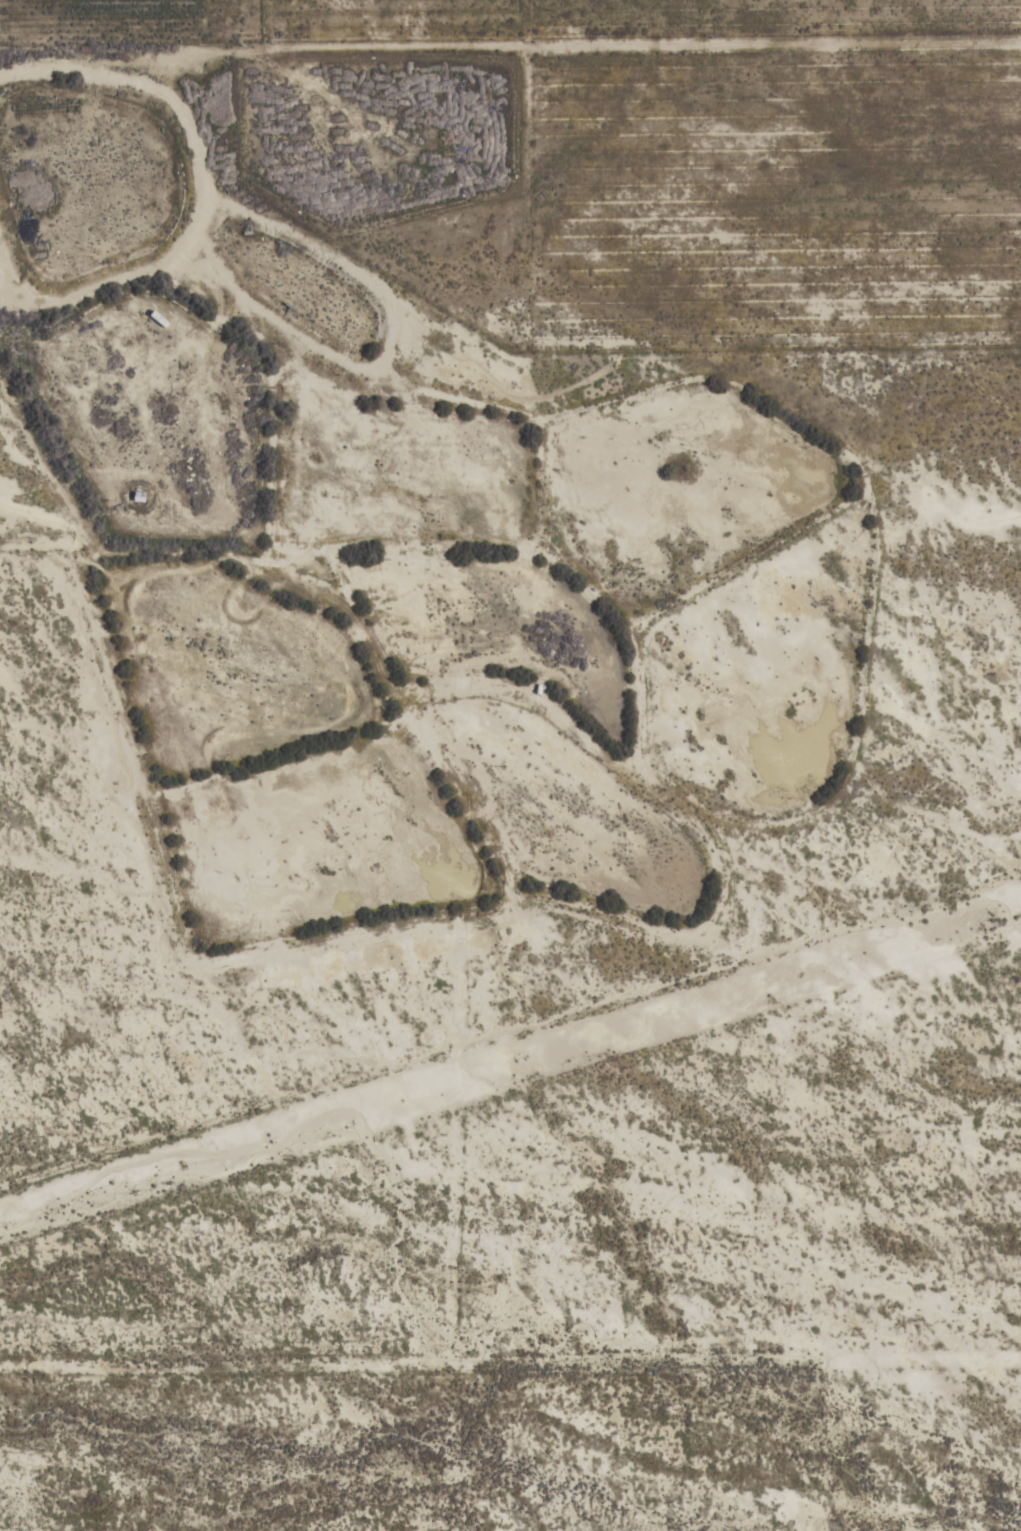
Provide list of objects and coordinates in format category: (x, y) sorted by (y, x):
airport runway: (510, 1062)
airport taxiway: (450, 1150)
airport taxiway: (510, 1353)

